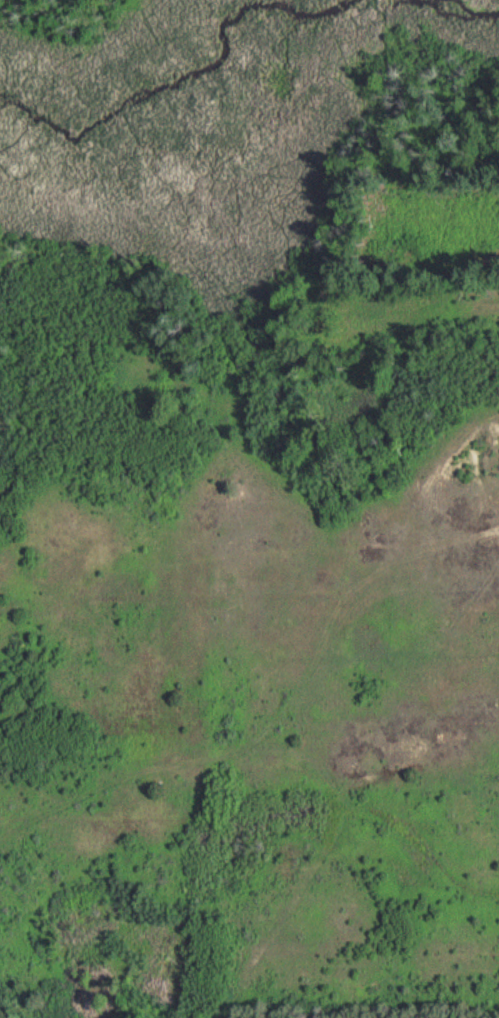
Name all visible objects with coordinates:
road: (232, 772)

